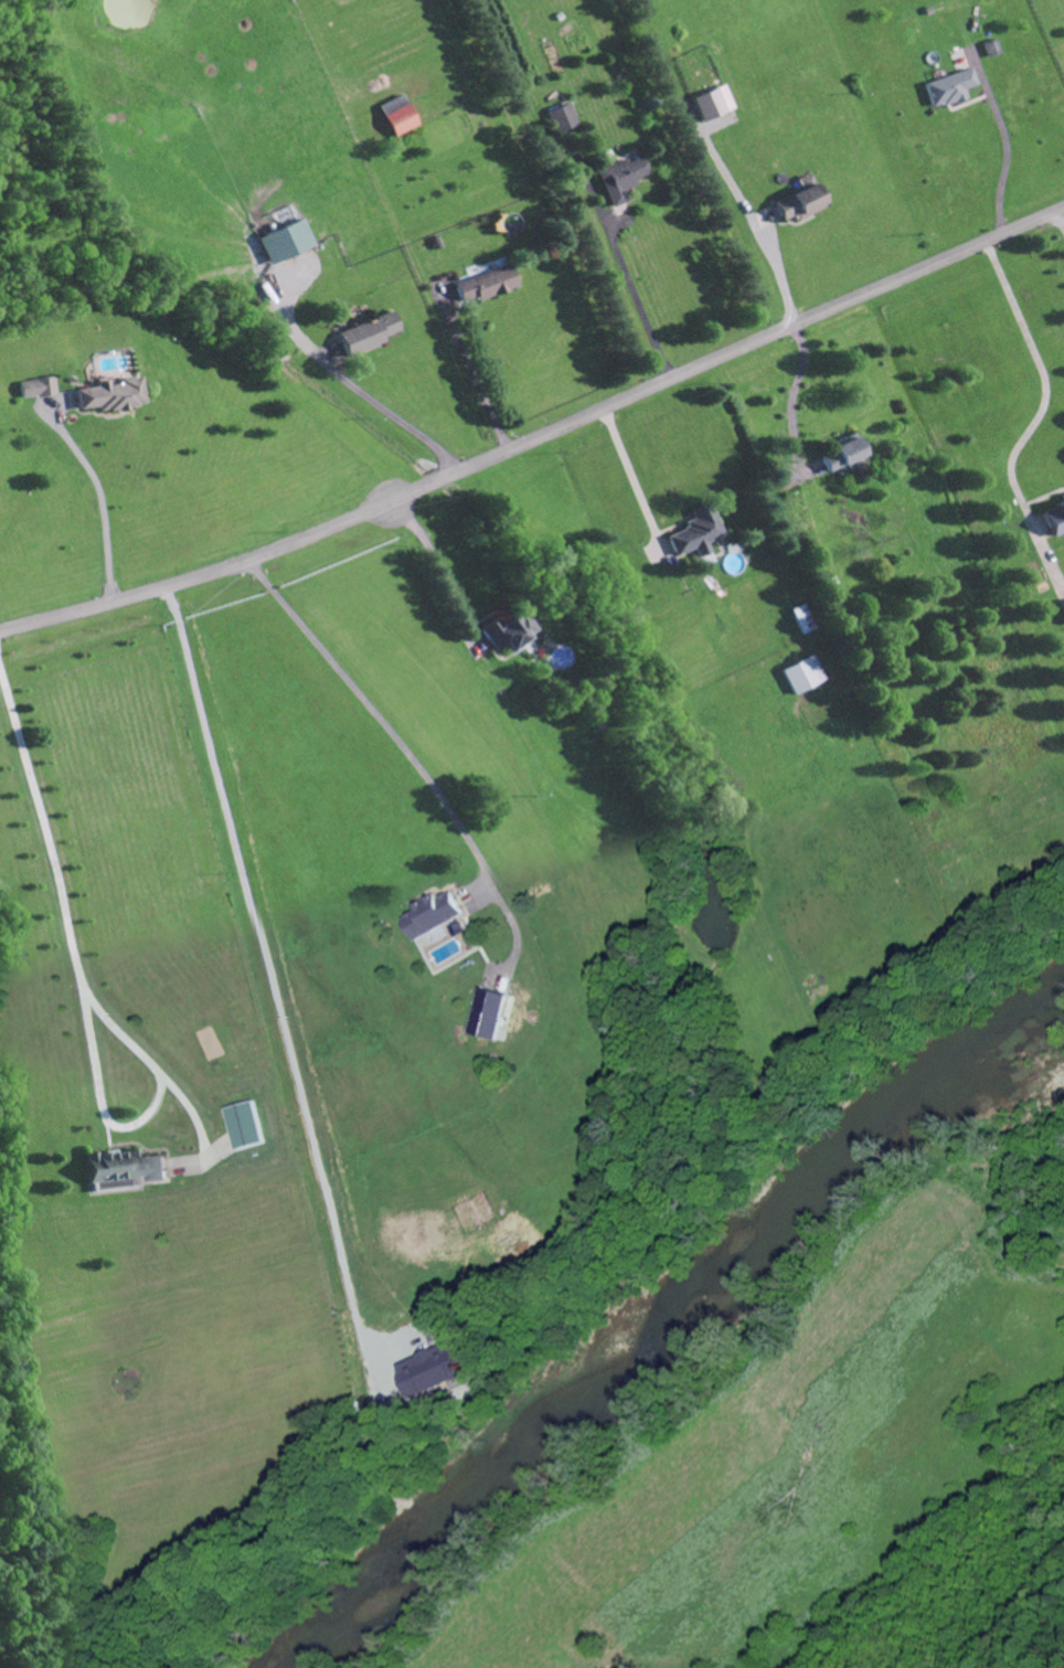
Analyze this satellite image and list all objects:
building: (993, 47)
building: (951, 88)
building: (714, 104)
building: (400, 115)
building: (563, 118)
road: (1010, 155)
building: (623, 179)
building: (802, 203)
road: (753, 213)
road: (1061, 222)
building: (286, 242)
building: (487, 285)
road: (640, 300)
building: (370, 333)
road: (475, 376)
building: (38, 389)
building: (109, 395)
road: (373, 399)
road: (797, 399)
road: (1044, 400)
road: (538, 439)
building: (847, 453)
road: (635, 477)
building: (1063, 495)
road: (103, 504)
building: (1054, 519)
building: (699, 533)
building: (1062, 608)
building: (511, 631)
building: (802, 674)
road: (396, 739)
road: (46, 824)
building: (434, 914)
road: (276, 998)
building: (491, 1014)
road: (141, 1119)
building: (246, 1126)
building: (124, 1170)
river: (660, 1332)
building: (435, 1370)
road: (745, 1575)

